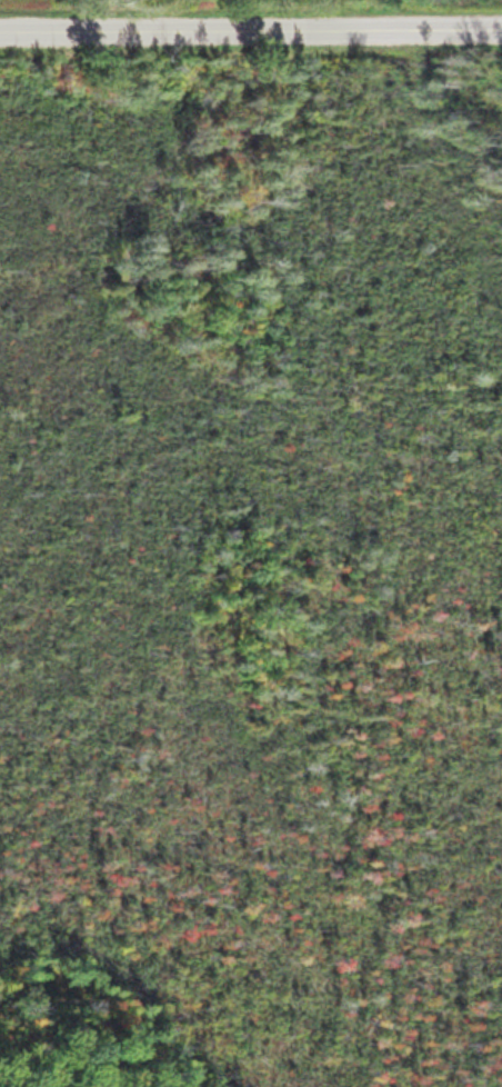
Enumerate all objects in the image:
road: (251, 26)

